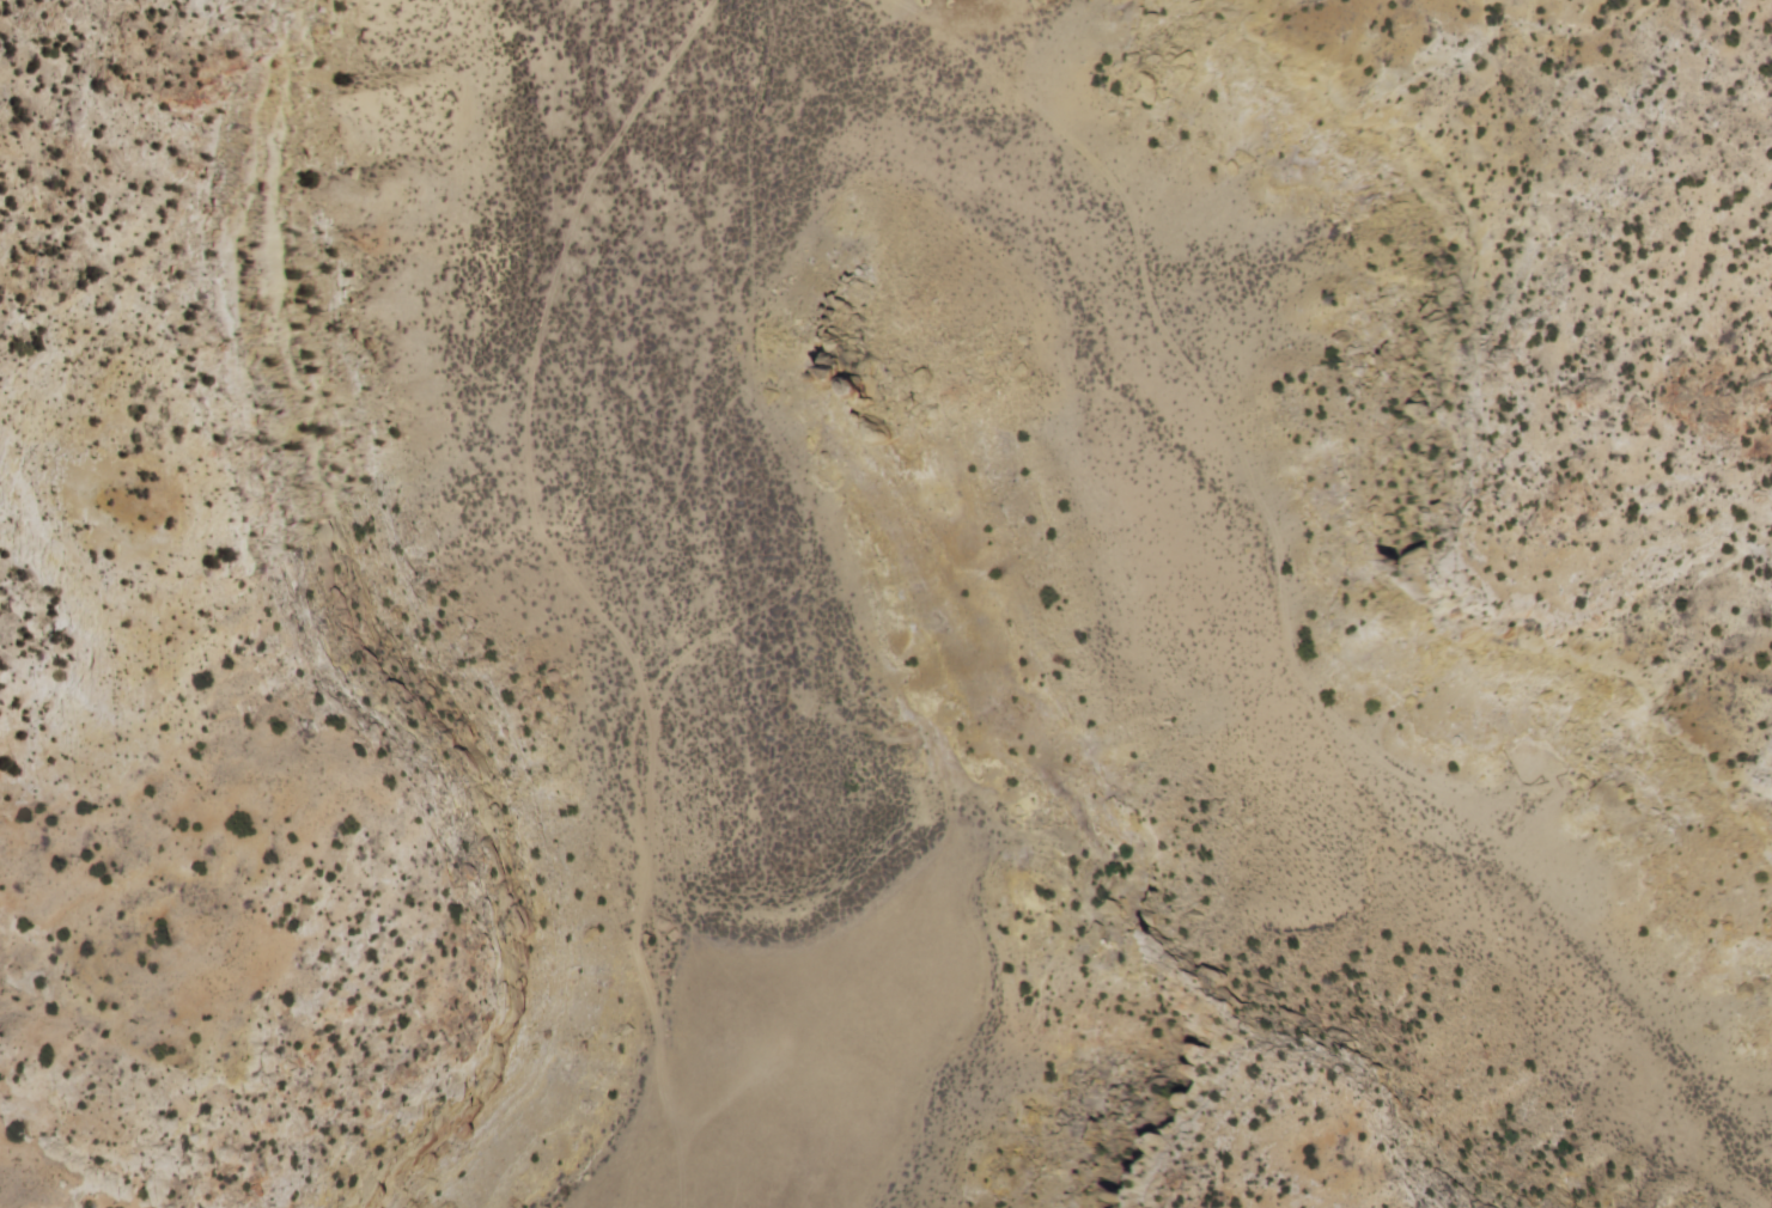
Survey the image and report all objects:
road: (797, 291)
river: (714, 572)
road: (866, 580)

